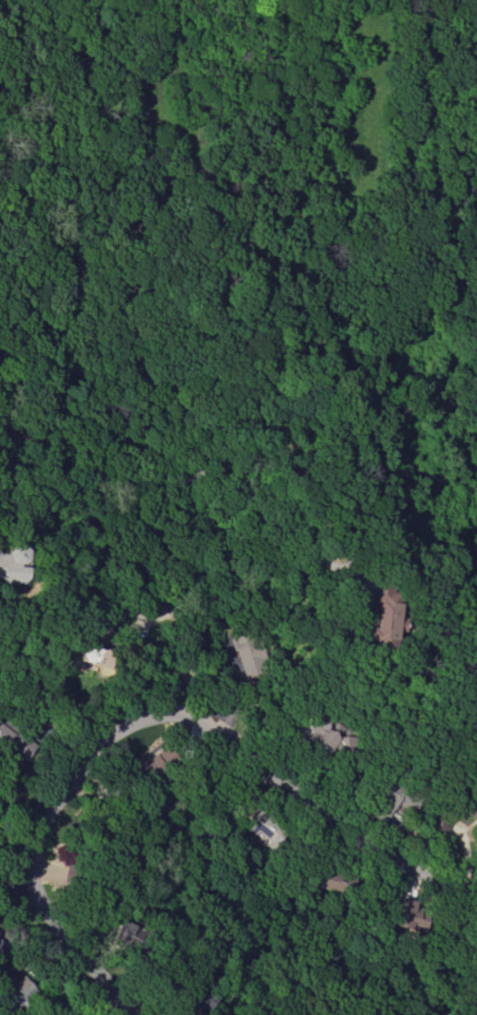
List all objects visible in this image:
road: (218, 473)
road: (3, 491)
road: (83, 513)
building: (12, 563)
road: (148, 613)
building: (383, 613)
building: (106, 652)
building: (249, 653)
road: (184, 657)
road: (143, 716)
building: (14, 736)
building: (331, 736)
building: (151, 767)
building: (394, 795)
building: (453, 810)
building: (265, 825)
building: (82, 865)
building: (334, 876)
building: (408, 913)
building: (134, 931)
building: (194, 988)
building: (16, 991)
building: (83, 1011)

